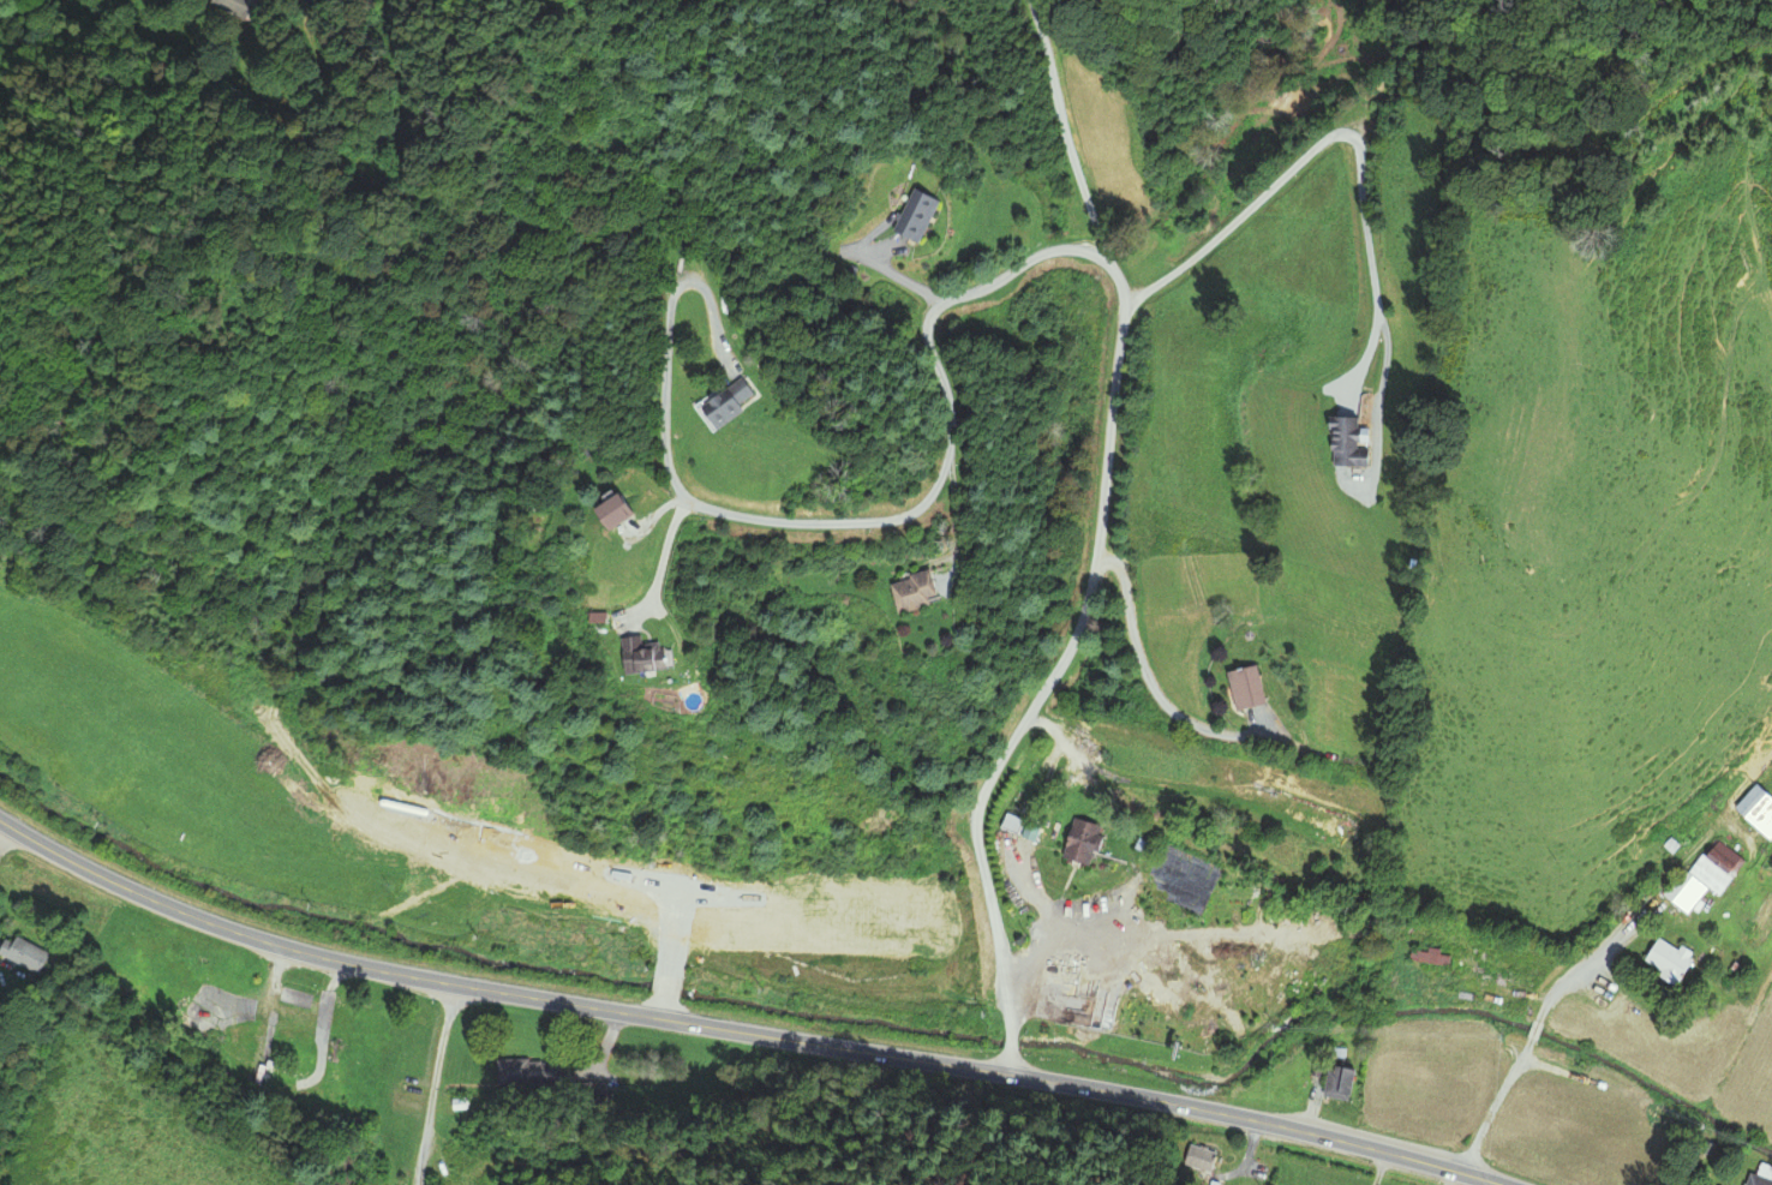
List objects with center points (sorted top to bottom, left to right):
building: (233, 8)
road: (1061, 131)
road: (1359, 161)
road: (1079, 249)
road: (892, 275)
road: (714, 318)
building: (725, 402)
building: (1347, 444)
road: (668, 557)
building: (2, 570)
building: (908, 592)
building: (639, 656)
road: (1149, 681)
building: (1245, 688)
building: (1758, 808)
building: (1013, 825)
building: (1080, 843)
building: (1716, 864)
building: (1684, 890)
building: (18, 956)
building: (1431, 959)
building: (1668, 959)
road: (1569, 972)
road: (525, 995)
building: (1, 1011)
road: (1010, 1041)
road: (1520, 1055)
road: (1007, 1060)
building: (529, 1073)
building: (1339, 1082)
road: (1486, 1118)
road: (1292, 1129)
building: (1198, 1157)
building: (1255, 1168)
building: (1758, 1180)

